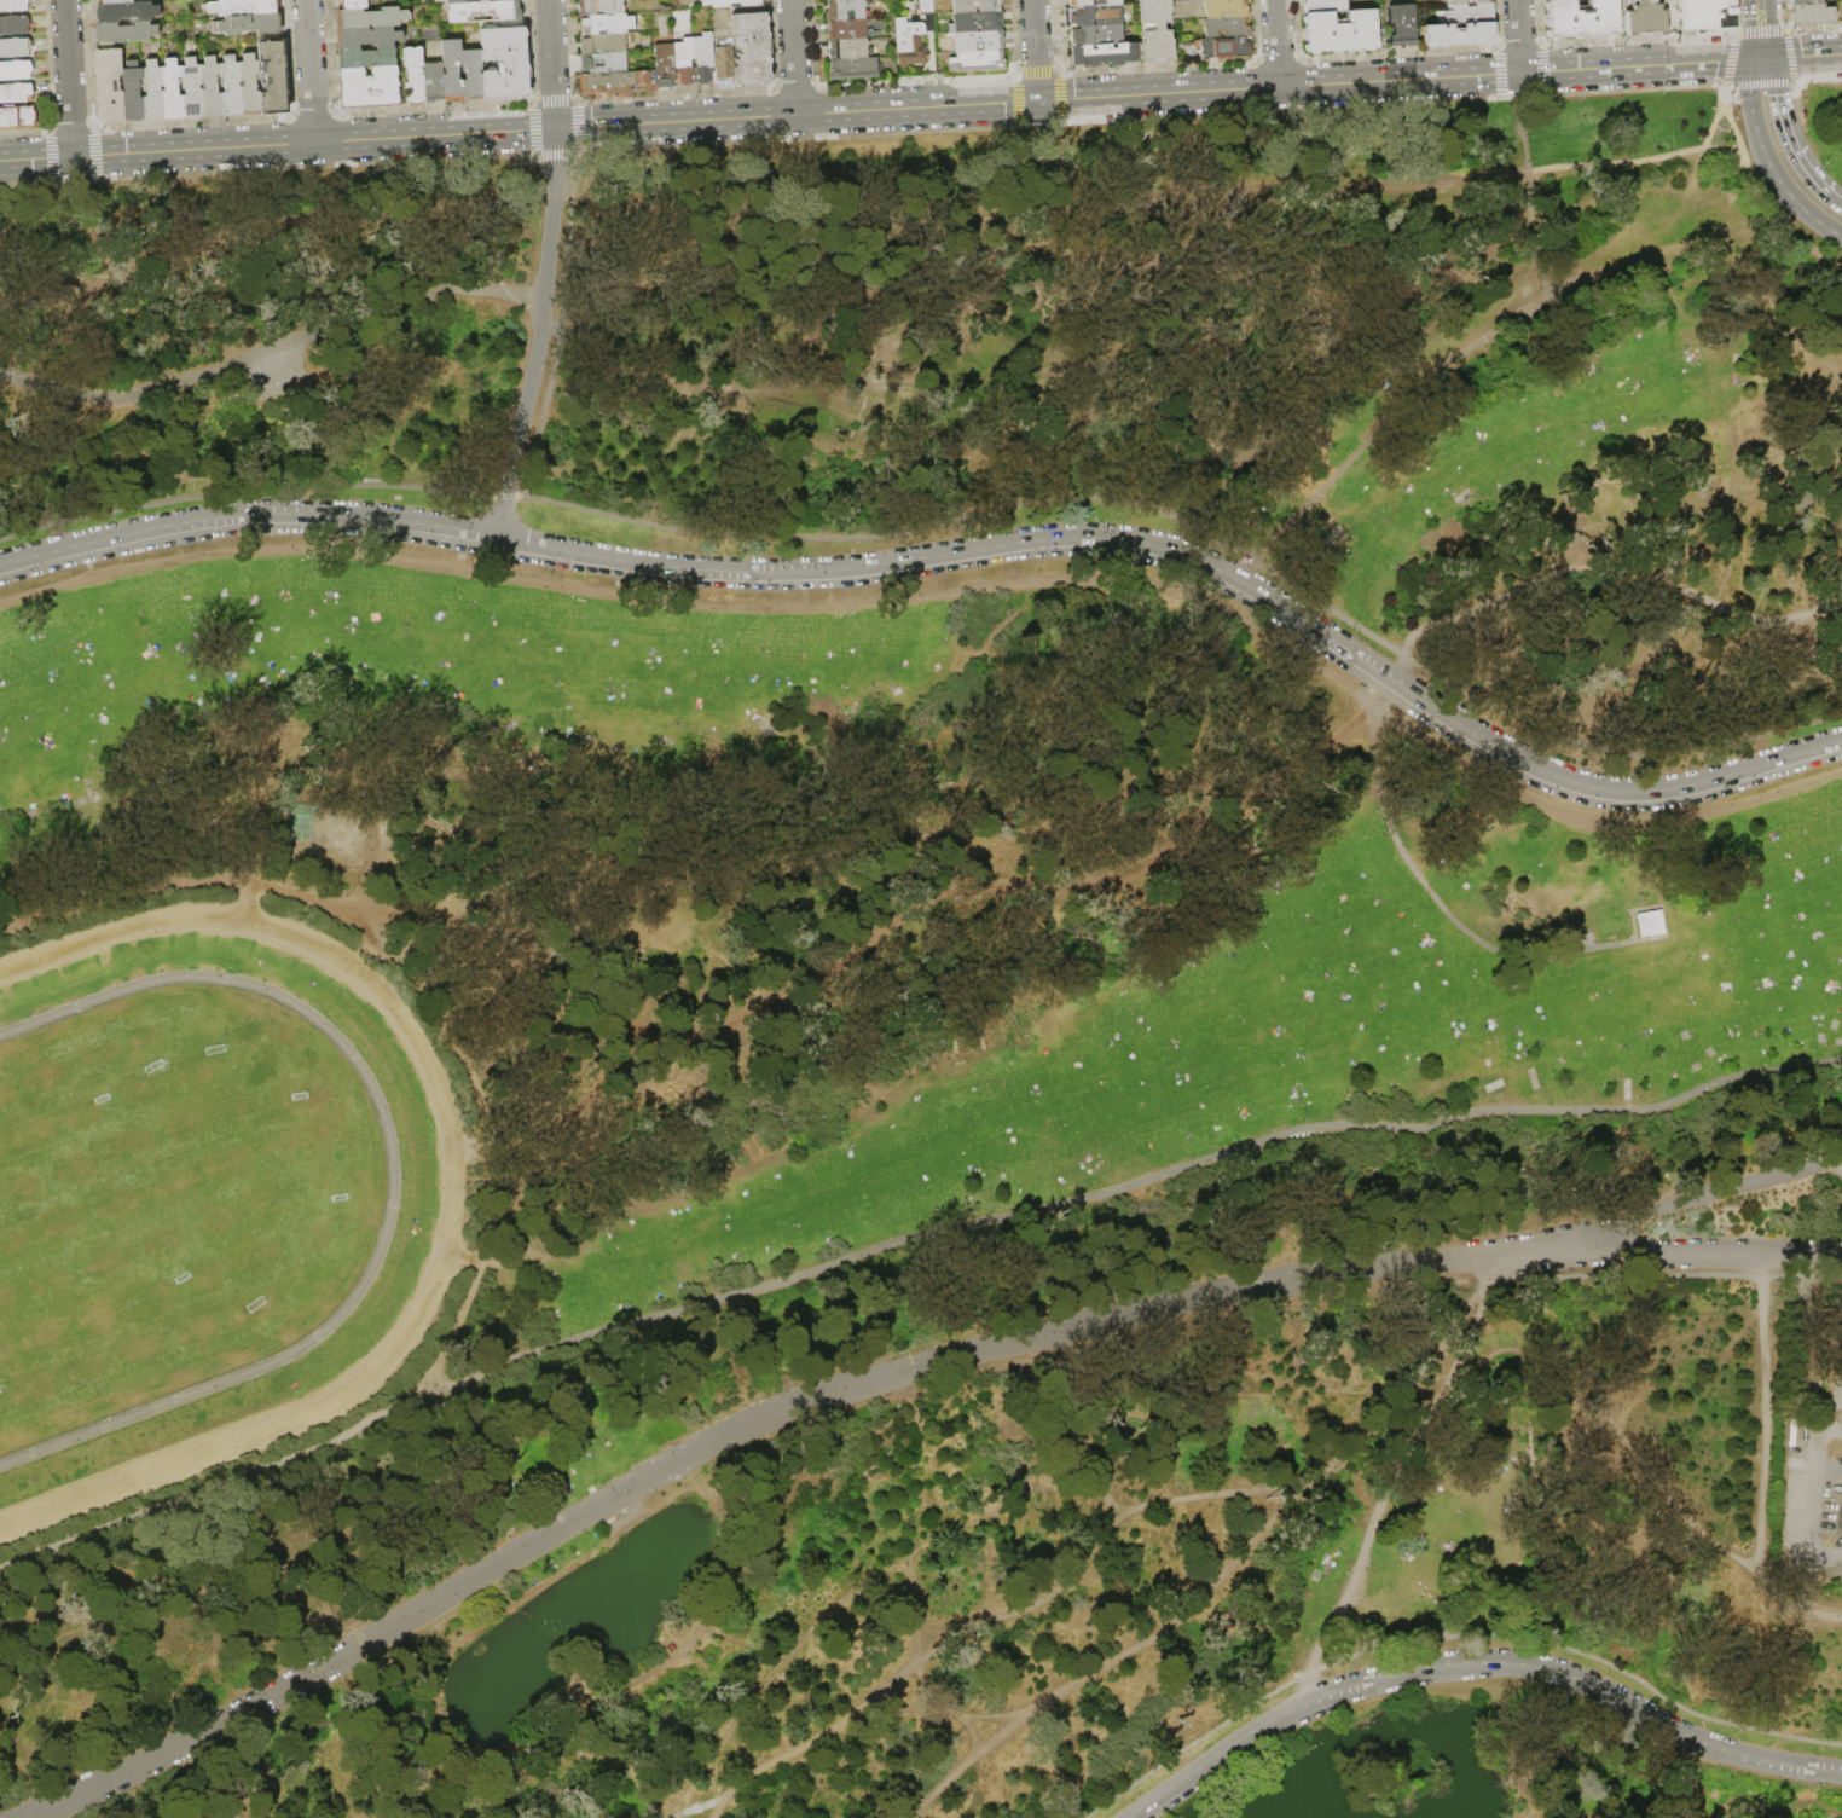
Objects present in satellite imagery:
building: (834, 0)
building: (1441, 0)
building: (116, 1)
building: (459, 1)
building: (505, 1)
building: (1466, 1)
building: (1803, 1)
building: (731, 2)
building: (1093, 2)
building: (13, 5)
building: (353, 5)
road: (1759, 5)
building: (977, 6)
building: (1325, 6)
building: (601, 7)
building: (927, 7)
building: (243, 8)
building: (1226, 8)
building: (846, 10)
building: (127, 12)
building: (483, 12)
building: (1470, 13)
building: (1704, 13)
building: (1811, 15)
building: (1096, 16)
building: (1643, 17)
building: (371, 18)
building: (1581, 19)
building: (977, 22)
building: (607, 24)
building: (15, 25)
building: (248, 25)
building: (1402, 25)
building: (1227, 28)
building: (847, 30)
building: (1158, 30)
building: (126, 33)
building: (1344, 33)
road: (1761, 33)
building: (1097, 35)
building: (1459, 35)
road: (1786, 35)
building: (367, 36)
road: (1519, 36)
road: (1635, 40)
building: (979, 42)
road: (1276, 42)
building: (604, 44)
building: (911, 44)
building: (15, 48)
building: (1224, 48)
building: (752, 50)
building: (850, 50)
road: (1036, 50)
building: (1104, 54)
road: (1396, 54)
road: (1802, 56)
road: (794, 57)
building: (367, 58)
traffic signals: (1762, 58)
building: (705, 59)
building: (685, 62)
building: (978, 63)
building: (505, 64)
road: (551, 64)
building: (603, 64)
building: (724, 65)
building: (665, 66)
road: (1154, 66)
building: (853, 69)
building: (15, 70)
road: (309, 70)
building: (452, 71)
road: (1756, 71)
road: (1520, 73)
building: (473, 75)
building: (415, 76)
road: (68, 77)
building: (274, 77)
building: (434, 82)
building: (109, 83)
building: (618, 83)
building: (250, 86)
building: (209, 87)
building: (231, 87)
building: (369, 88)
building: (191, 89)
building: (170, 91)
building: (151, 92)
building: (17, 93)
building: (132, 95)
road: (917, 106)
building: (18, 117)
road: (1524, 121)
traffic signals: (556, 128)
road: (1786, 134)
road: (1733, 138)
road: (277, 143)
road: (1699, 163)
road: (1738, 169)
road: (1776, 173)
road: (1769, 185)
road: (19, 189)
road: (1837, 202)
road: (852, 212)
road: (1798, 231)
road: (1529, 238)
road: (540, 335)
road: (1470, 346)
road: (272, 347)
road: (247, 516)
road: (951, 522)
road: (1200, 563)
road: (950, 595)
road: (1397, 667)
road: (249, 776)
road: (823, 856)
road: (923, 903)
road: (1148, 915)
building: (1649, 925)
road: (433, 971)
park: (931, 975)
road: (596, 983)
road: (63, 1011)
track: (63, 1011)
building: (1586, 1056)
park: (50, 1137)
park: (222, 1157)
road: (1117, 1183)
stadium: (208, 1194)
track: (205, 1195)
road: (1664, 1206)
track: (450, 1220)
road: (380, 1246)
track: (380, 1246)
road: (1664, 1252)
road: (1462, 1263)
park: (81, 1324)
road: (905, 1385)
road: (1243, 1394)
road: (1763, 1415)
road: (383, 1420)
road: (568, 1425)
road: (1769, 1425)
road: (1824, 1430)
building: (1792, 1432)
road: (699, 1449)
road: (1639, 1457)
road: (917, 1461)
road: (1827, 1472)
road: (1041, 1473)
road: (1094, 1476)
road: (330, 1483)
road: (1240, 1490)
building: (1838, 1490)
road: (175, 1500)
road: (1806, 1516)
building: (1837, 1519)
road: (1377, 1521)
road: (430, 1524)
road: (1244, 1544)
road: (1824, 1559)
road: (331, 1564)
road: (122, 1605)
road: (688, 1637)
road: (467, 1638)
road: (1450, 1638)
road: (22, 1642)
road: (1476, 1662)
road: (777, 1664)
road: (890, 1683)
road: (48, 1695)
road: (932, 1700)
road: (450, 1712)
road: (570, 1736)
road: (1522, 1739)
road: (952, 1771)
road: (433, 1779)
road: (1692, 1781)
road: (1788, 1796)
road: (1809, 1796)
road: (709, 1805)
road: (1569, 1805)
road: (1818, 1806)
road: (1740, 1814)

